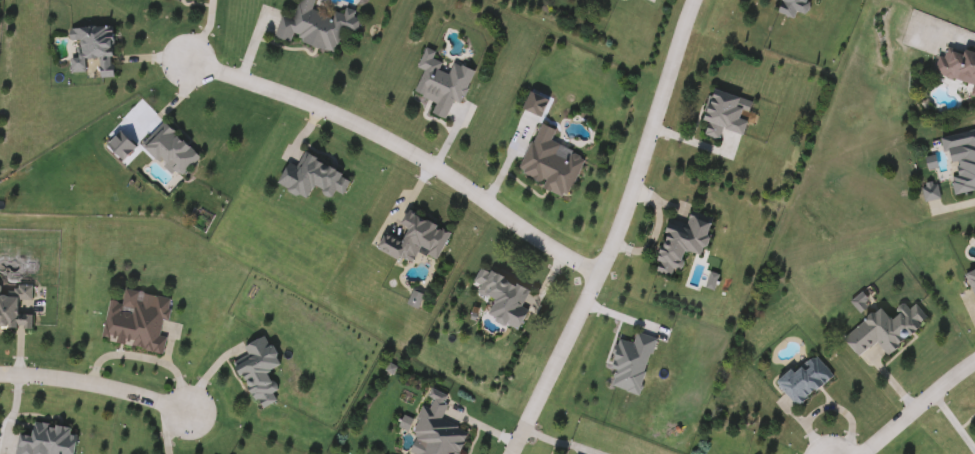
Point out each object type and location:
building: (824, 0)
building: (790, 7)
building: (314, 27)
road: (943, 28)
road: (201, 31)
building: (90, 52)
building: (957, 66)
building: (439, 84)
building: (723, 115)
road: (399, 150)
building: (168, 151)
building: (962, 162)
building: (548, 163)
building: (309, 179)
road: (610, 230)
building: (411, 240)
building: (679, 242)
building: (971, 282)
building: (500, 299)
building: (13, 308)
building: (134, 322)
building: (888, 327)
building: (628, 364)
building: (255, 372)
building: (802, 379)
road: (94, 383)
road: (918, 406)
building: (435, 431)
building: (44, 441)

